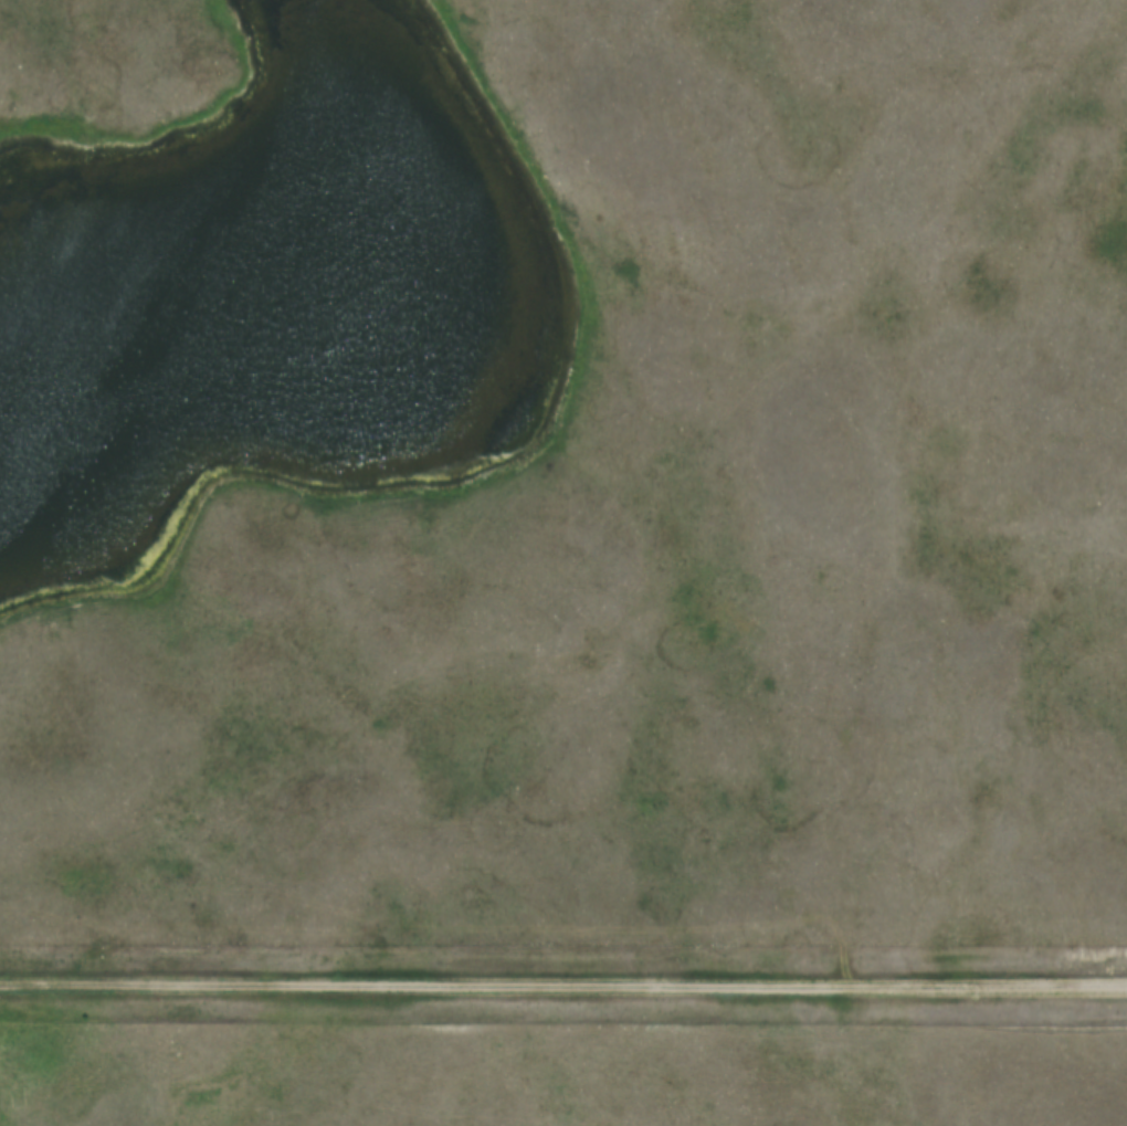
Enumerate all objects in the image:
road: (563, 986)

